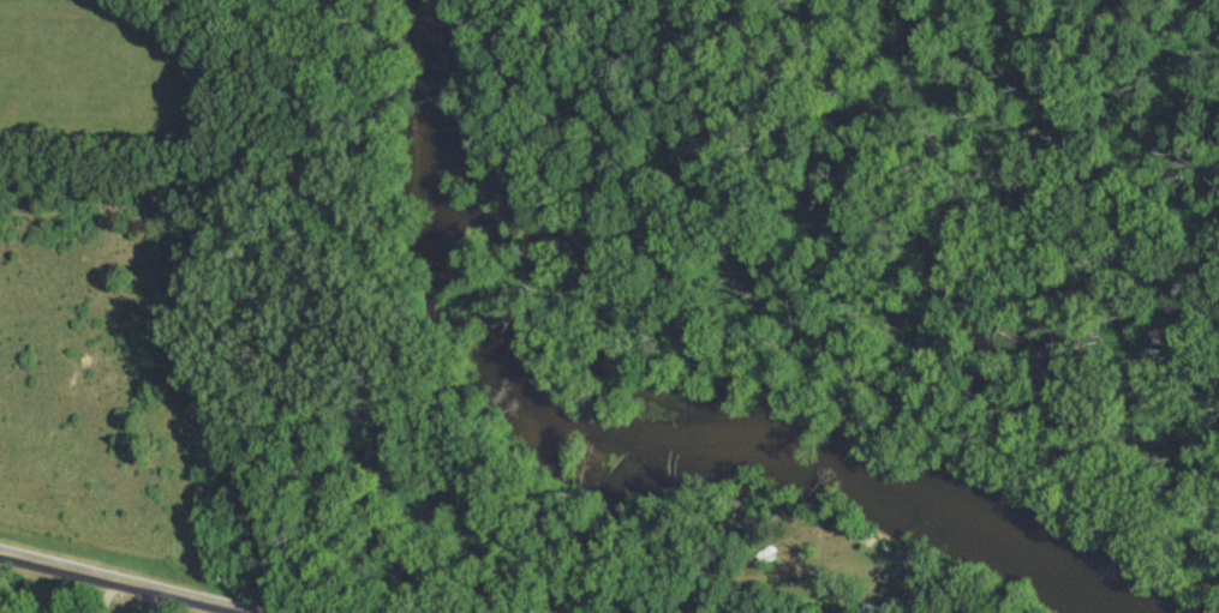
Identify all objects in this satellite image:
river: (634, 441)
road: (119, 582)

